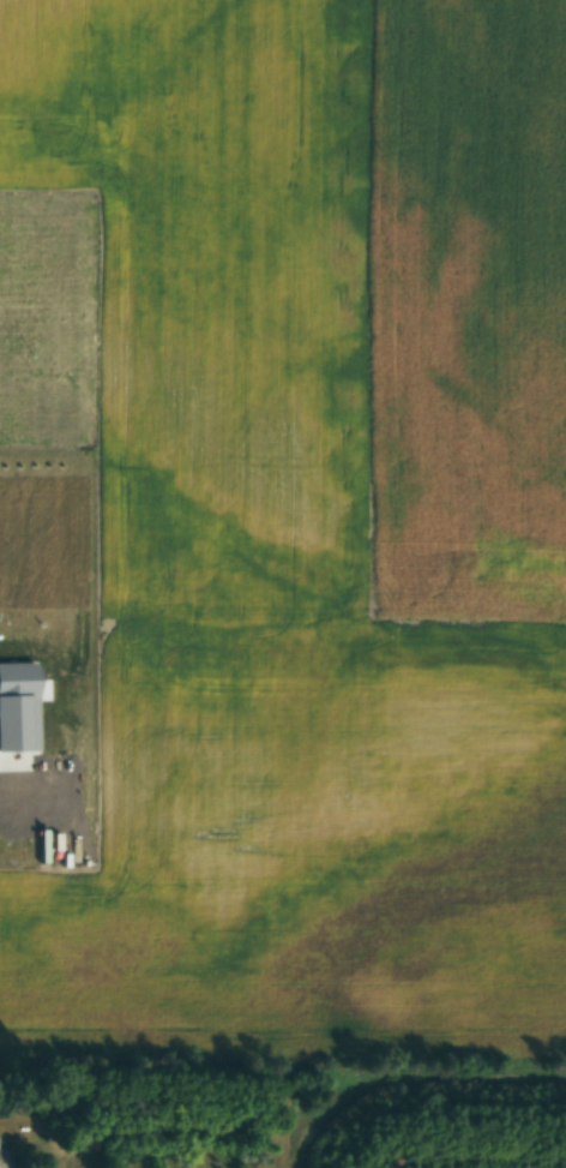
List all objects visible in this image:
road: (22, 786)
building: (2, 1158)

